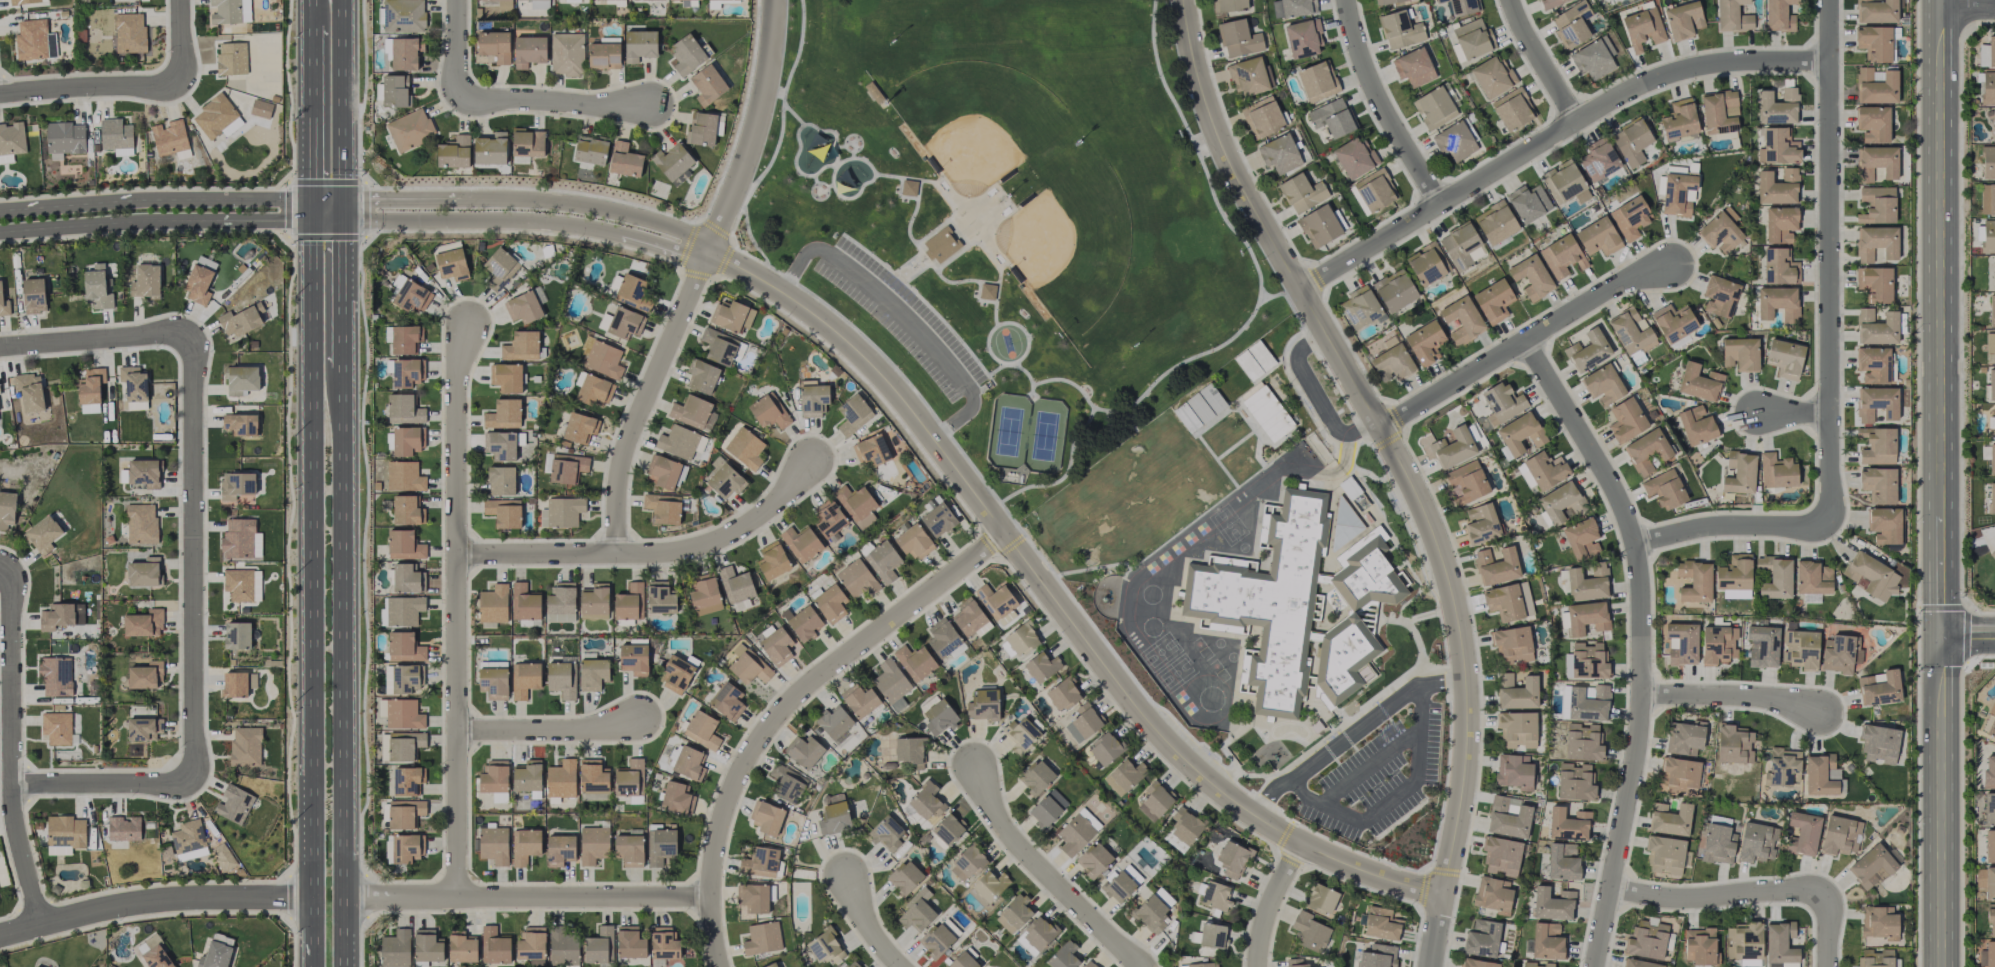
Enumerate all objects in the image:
building: (521, 0)
building: (620, 0)
building: (646, 0)
building: (27, 1)
building: (1387, 1)
building: (1551, 3)
building: (503, 4)
road: (311, 7)
building: (1228, 7)
building: (1462, 7)
building: (1293, 8)
road: (1967, 8)
building: (229, 11)
building: (1876, 11)
building: (1779, 15)
building: (403, 16)
building: (1733, 16)
building: (1683, 20)
building: (1571, 24)
building: (1643, 28)
building: (1400, 30)
building: (129, 32)
building: (1239, 38)
building: (1303, 38)
building: (1473, 38)
building: (34, 40)
building: (1875, 43)
road: (182, 44)
building: (640, 45)
building: (494, 46)
road: (458, 49)
building: (529, 51)
building: (1991, 51)
building: (405, 53)
building: (567, 54)
building: (604, 54)
building: (689, 54)
building: (1983, 55)
building: (231, 58)
building: (1594, 58)
road: (1542, 61)
building: (1413, 67)
building: (1492, 76)
building: (1248, 77)
building: (1317, 81)
building: (707, 85)
building: (1876, 85)
road: (91, 87)
building: (1988, 88)
building: (395, 91)
road: (553, 100)
road: (1385, 106)
building: (1777, 106)
road: (311, 107)
building: (261, 108)
building: (1434, 108)
road: (345, 109)
building: (1512, 109)
building: (1719, 112)
building: (217, 117)
building: (1262, 117)
building: (1332, 117)
park: (976, 120)
building: (1679, 121)
building: (1873, 123)
building: (1994, 124)
building: (702, 128)
building: (410, 129)
building: (116, 136)
road: (1551, 136)
building: (12, 138)
building: (64, 139)
building: (171, 139)
building: (1455, 141)
building: (1631, 141)
building: (527, 143)
building: (1779, 146)
building: (490, 149)
building: (590, 151)
building: (454, 153)
building: (1279, 154)
building: (1354, 157)
building: (6, 159)
building: (625, 160)
building: (1599, 160)
building: (1876, 162)
building: (1988, 162)
building: (673, 163)
building: (1565, 180)
building: (909, 187)
building: (1777, 187)
building: (1375, 190)
building: (1302, 192)
building: (1677, 193)
road: (155, 199)
traffic signals: (312, 199)
traffic signals: (346, 199)
road: (385, 199)
building: (1987, 199)
building: (1528, 203)
building: (1877, 205)
road: (588, 206)
park: (1010, 217)
building: (1630, 218)
road: (266, 220)
traffic signals: (312, 220)
traffic signals: (346, 220)
road: (466, 220)
building: (1496, 222)
road: (110, 223)
building: (1780, 224)
building: (1319, 226)
building: (1721, 231)
building: (1988, 236)
building: (1598, 237)
building: (1876, 243)
building: (941, 245)
park: (1070, 245)
building: (1462, 245)
road: (663, 248)
building: (1561, 256)
building: (206, 262)
building: (451, 264)
building: (1427, 264)
building: (500, 267)
building: (1779, 267)
building: (1994, 275)
building: (1531, 276)
road: (695, 277)
building: (146, 281)
building: (1875, 283)
building: (198, 284)
building: (97, 288)
building: (1395, 290)
building: (634, 292)
building: (34, 295)
road: (346, 295)
building: (411, 296)
building: (1720, 296)
building: (1493, 301)
building: (4, 303)
building: (1777, 303)
building: (523, 307)
building: (1360, 307)
building: (1991, 310)
road: (902, 313)
building: (732, 315)
parking lot: (903, 318)
road: (1940, 318)
building: (241, 319)
building: (1462, 319)
building: (624, 322)
building: (1674, 322)
building: (1877, 327)
building: (1631, 331)
building: (403, 338)
road: (1522, 339)
road: (96, 341)
building: (1425, 342)
park: (1008, 343)
building: (1990, 345)
building: (521, 346)
building: (719, 346)
building: (1588, 350)
building: (1740, 353)
building: (1784, 358)
building: (602, 359)
building: (1254, 360)
road: (1829, 361)
building: (1393, 362)
building: (1875, 365)
road: (1018, 368)
building: (406, 373)
building: (701, 376)
building: (506, 377)
building: (134, 382)
building: (1699, 382)
building: (1603, 384)
building: (1991, 384)
building: (90, 386)
building: (592, 389)
building: (29, 391)
building: (812, 398)
road: (1315, 398)
building: (1502, 402)
building: (1876, 403)
building: (1199, 408)
building: (404, 409)
building: (769, 411)
road: (1793, 411)
building: (693, 413)
building: (1268, 413)
building: (504, 414)
building: (853, 415)
building: (1626, 420)
building: (1994, 421)
building: (240, 424)
building: (1696, 425)
building: (579, 427)
park: (1026, 433)
road: (1384, 433)
building: (1520, 433)
road: (1074, 437)
building: (404, 441)
building: (680, 442)
building: (500, 445)
building: (1877, 445)
building: (1453, 447)
building: (745, 448)
building: (872, 450)
building: (1647, 450)
building: (1992, 460)
building: (564, 467)
building: (1544, 470)
building: (664, 471)
building: (1777, 471)
building: (143, 472)
building: (1740, 473)
building: (404, 476)
building: (724, 478)
building: (501, 480)
building: (1466, 483)
building: (1878, 484)
building: (237, 485)
building: (1665, 489)
building: (1991, 498)
building: (1562, 502)
building: (857, 504)
building: (663, 508)
building: (6, 510)
building: (407, 510)
building: (503, 512)
building: (562, 512)
building: (937, 517)
building: (829, 518)
building: (141, 523)
building: (1343, 523)
building: (1481, 524)
building: (1885, 525)
building: (43, 534)
building: (1582, 538)
building: (240, 539)
building: (914, 541)
building: (801, 543)
building: (404, 545)
road: (648, 553)
building: (1992, 555)
road: (194, 559)
building: (882, 559)
building: (773, 560)
building: (1496, 566)
building: (143, 572)
building: (1734, 573)
road: (312, 574)
building: (1367, 574)
building: (1775, 576)
building: (1872, 576)
building: (405, 578)
building: (1813, 578)
building: (857, 579)
building: (1695, 581)
building: (1587, 583)
building: (242, 584)
building: (736, 585)
building: (705, 594)
building: (660, 598)
road: (1057, 598)
building: (1268, 600)
building: (594, 601)
building: (1509, 601)
building: (524, 602)
building: (561, 602)
building: (628, 602)
building: (997, 602)
building: (830, 603)
building: (493, 604)
building: (403, 610)
road: (457, 610)
building: (57, 616)
building: (1586, 617)
building: (970, 618)
building: (143, 623)
building: (804, 623)
building: (237, 635)
road: (1967, 636)
traffic signals: (1940, 637)
building: (943, 638)
building: (1022, 639)
road: (1641, 640)
building: (1682, 643)
building: (1718, 644)
building: (1512, 645)
building: (776, 646)
building: (1763, 646)
building: (404, 647)
building: (1801, 649)
building: (1840, 653)
building: (634, 657)
building: (1343, 659)
building: (1588, 661)
building: (915, 662)
road: (346, 665)
building: (1042, 666)
building: (749, 667)
building: (593, 674)
building: (145, 675)
building: (676, 675)
building: (55, 676)
building: (493, 679)
building: (525, 679)
building: (562, 679)
building: (402, 680)
building: (238, 684)
building: (891, 684)
building: (1879, 688)
building: (1517, 692)
building: (1063, 694)
road: (1731, 696)
building: (859, 700)
building: (727, 701)
road: (782, 703)
building: (1584, 703)
building: (983, 704)
building: (403, 714)
building: (939, 717)
building: (1991, 721)
building: (834, 722)
building: (1083, 723)
building: (57, 728)
building: (143, 728)
building: (1518, 728)
road: (549, 729)
building: (702, 729)
road: (1353, 732)
building: (1021, 734)
building: (1685, 737)
road: (12, 742)
building: (1582, 742)
building: (1879, 743)
building: (1734, 744)
building: (245, 746)
building: (405, 747)
building: (1105, 748)
building: (803, 751)
building: (910, 751)
building: (687, 761)
building: (1783, 766)
building: (1514, 771)
building: (1989, 773)
building: (1821, 774)
building: (527, 776)
building: (592, 776)
building: (1124, 776)
building: (1679, 776)
building: (494, 777)
building: (1036, 777)
building: (629, 778)
building: (561, 779)
building: (407, 780)
building: (1575, 782)
building: (787, 783)
road: (104, 785)
road: (1394, 797)
building: (675, 798)
building: (926, 801)
building: (1155, 801)
road: (1940, 802)
building: (233, 804)
building: (1047, 808)
building: (1989, 809)
building: (404, 813)
building: (766, 817)
building: (834, 818)
building: (1508, 818)
building: (1671, 821)
building: (1568, 824)
building: (124, 829)
building: (1183, 829)
building: (946, 830)
building: (1077, 832)
building: (1803, 833)
building: (64, 834)
building: (887, 834)
building: (1840, 835)
building: (189, 840)
building: (1757, 842)
building: (493, 844)
building: (593, 844)
building: (1718, 844)
building: (524, 846)
building: (661, 846)
building: (1989, 846)
building: (403, 848)
building: (560, 849)
building: (629, 849)
building: (1665, 855)
building: (223, 856)
building: (1501, 856)
building: (1093, 859)
building: (1232, 859)
building: (760, 862)
building: (1563, 862)
building: (967, 863)
building: (1871, 866)
road: (1046, 874)
building: (905, 877)
building: (1990, 883)
building: (990, 885)
building: (1118, 886)
building: (1493, 894)
building: (1215, 896)
road: (1718, 896)
road: (527, 897)
building: (1163, 897)
building: (753, 898)
building: (1321, 899)
road: (154, 901)
road: (1272, 901)
building: (1552, 904)
building: (916, 912)
building: (1014, 913)
building: (1151, 914)
building: (1991, 921)
building: (1879, 922)
building: (1381, 923)
road: (865, 925)
road: (1827, 928)
building: (1309, 931)
road: (1435, 932)
building: (1037, 935)
building: (1213, 935)
building: (939, 937)
building: (762, 938)
building: (1482, 938)
building: (1647, 939)
building: (1547, 941)
building: (1743, 941)
building: (630, 942)
building: (663, 944)
building: (531, 945)
building: (598, 945)
building: (1780, 945)
building: (495, 946)
building: (1700, 946)
building: (427, 947)
building: (562, 947)
building: (825, 947)
building: (462, 948)
building: (395, 949)
building: (217, 952)
building: (1990, 954)
building: (1376, 955)
building: (1063, 956)
building: (156, 957)
road: (314, 958)
building: (1876, 958)
building: (963, 961)
road: (346, 963)
building: (1295, 963)
building: (1479, 963)
building: (1639, 963)
building: (772, 965)
building: (851, 965)
building: (1090, 965)
building: (1202, 965)
building: (1536, 965)

